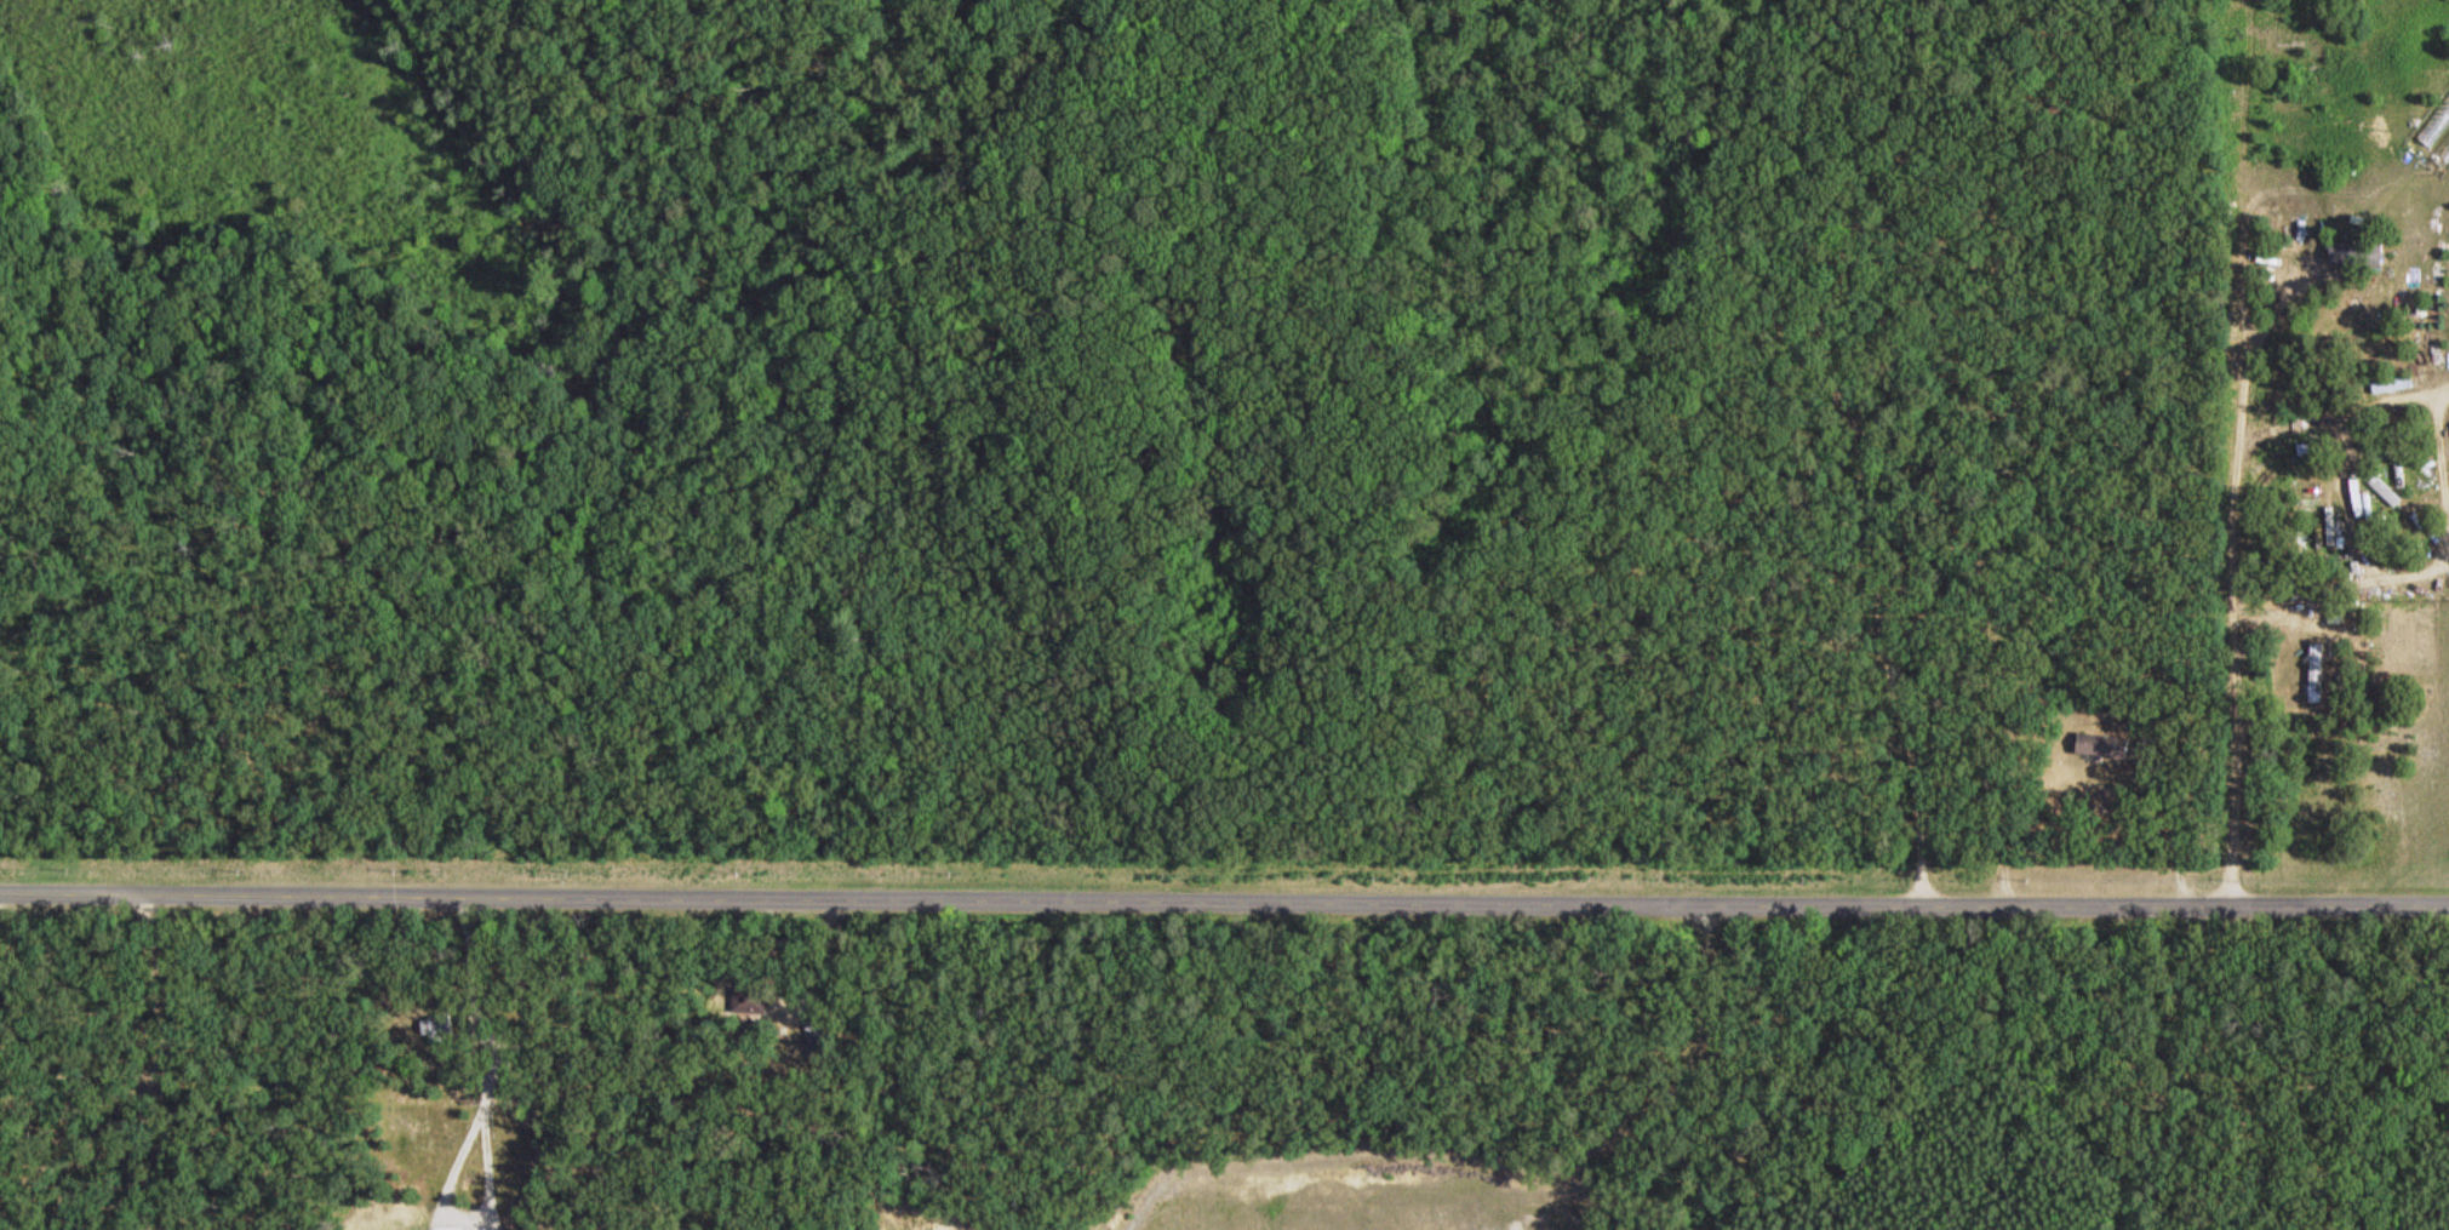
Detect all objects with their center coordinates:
building: (2346, 252)
building: (2390, 383)
building: (2275, 388)
road: (1856, 390)
building: (2398, 473)
building: (2357, 494)
building: (2329, 524)
building: (2317, 670)
road: (1224, 899)
building: (437, 1025)
building: (820, 1035)

